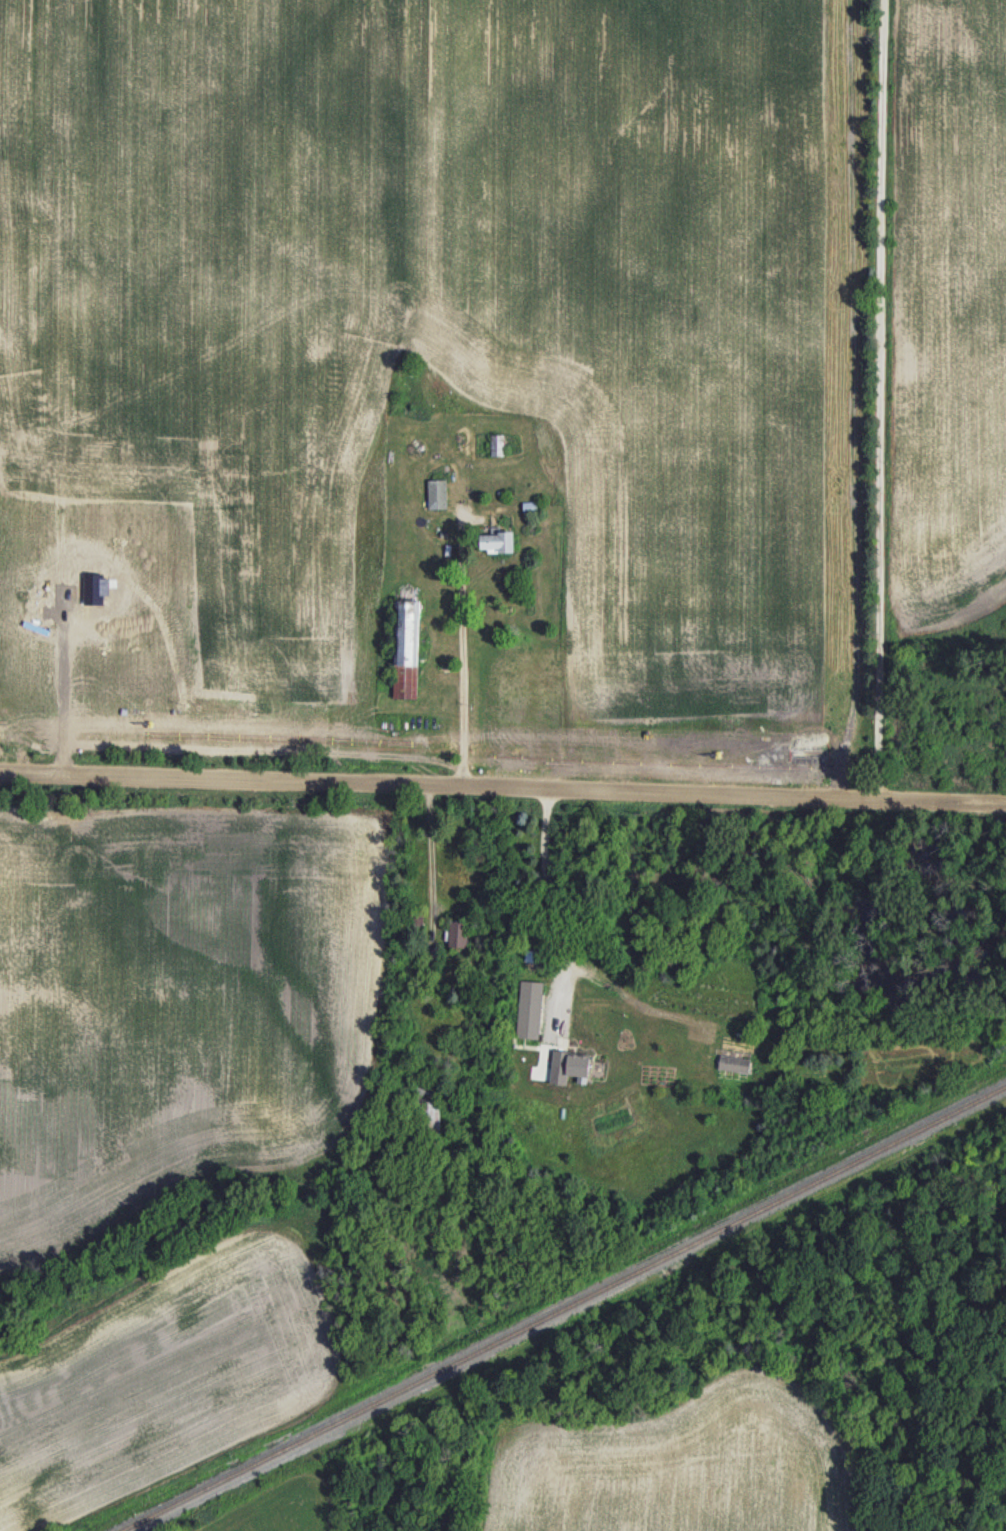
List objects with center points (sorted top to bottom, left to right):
crop: (505, 393)
road: (877, 402)
building: (497, 445)
building: (437, 494)
building: (497, 542)
building: (406, 648)
road: (462, 650)
road: (502, 794)
road: (550, 893)
building: (458, 934)
building: (529, 1009)
building: (571, 1062)
building: (733, 1064)
building: (429, 1115)
railway: (563, 1308)

